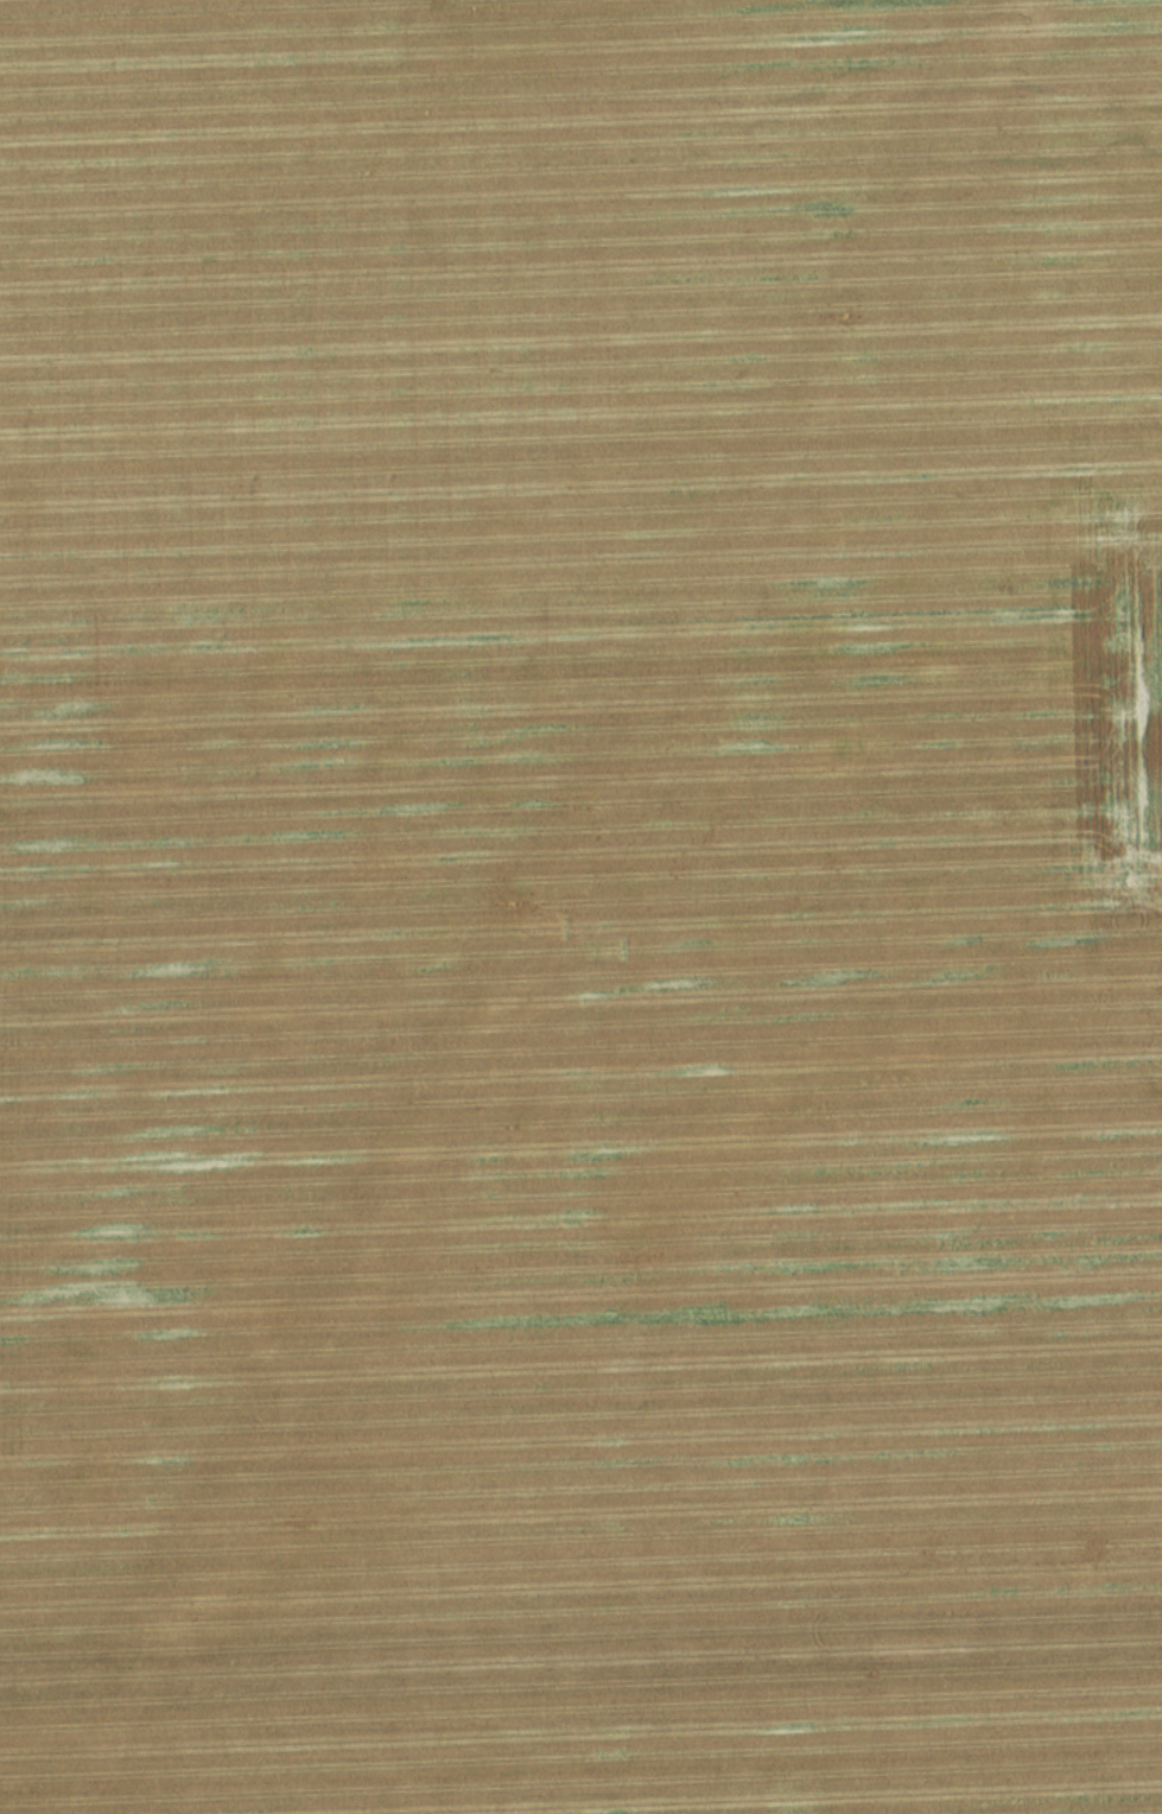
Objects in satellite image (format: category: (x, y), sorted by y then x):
crop: (580, 907)

